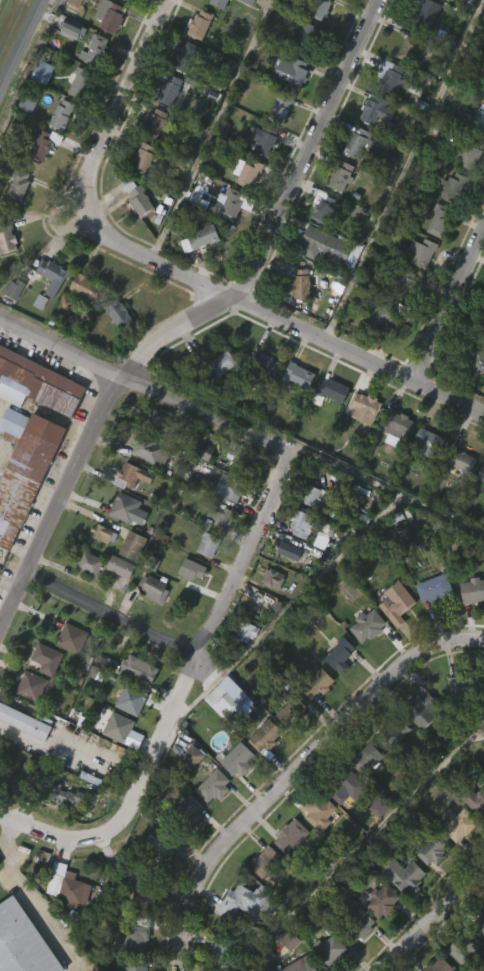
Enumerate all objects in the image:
building: (129, 0)
building: (136, 0)
building: (217, 3)
building: (232, 5)
building: (321, 8)
building: (428, 12)
building: (109, 15)
building: (120, 17)
building: (201, 24)
building: (217, 28)
building: (73, 30)
building: (243, 30)
building: (311, 39)
road: (21, 46)
building: (419, 46)
building: (96, 51)
building: (187, 56)
building: (67, 64)
building: (298, 74)
building: (392, 75)
building: (78, 83)
building: (405, 83)
building: (89, 85)
building: (169, 91)
building: (483, 92)
building: (182, 93)
road: (124, 103)
building: (283, 108)
building: (36, 110)
building: (379, 112)
building: (59, 116)
building: (76, 118)
building: (479, 121)
building: (159, 124)
building: (23, 138)
building: (268, 140)
building: (43, 143)
building: (366, 143)
building: (57, 150)
building: (471, 153)
building: (151, 158)
building: (142, 160)
building: (246, 172)
building: (342, 174)
building: (353, 177)
building: (260, 178)
building: (39, 179)
building: (20, 183)
building: (456, 186)
building: (136, 196)
building: (227, 204)
building: (325, 206)
building: (242, 207)
building: (336, 210)
road: (279, 213)
building: (442, 219)
building: (14, 220)
building: (133, 232)
building: (6, 238)
building: (201, 238)
building: (223, 239)
building: (327, 246)
building: (424, 252)
building: (433, 258)
building: (53, 274)
building: (194, 274)
building: (302, 283)
building: (406, 284)
building: (84, 288)
building: (416, 288)
road: (449, 305)
building: (47, 310)
building: (120, 313)
building: (375, 317)
building: (296, 318)
building: (400, 318)
road: (282, 320)
building: (80, 321)
building: (10, 323)
building: (483, 326)
building: (35, 337)
building: (60, 339)
building: (114, 348)
building: (371, 351)
building: (478, 360)
building: (265, 363)
building: (223, 364)
building: (300, 375)
road: (145, 388)
building: (337, 390)
building: (473, 396)
building: (261, 399)
building: (216, 400)
building: (367, 404)
building: (293, 410)
building: (35, 419)
building: (400, 423)
building: (327, 424)
building: (159, 425)
building: (431, 443)
building: (359, 445)
building: (150, 450)
building: (391, 459)
building: (463, 460)
building: (246, 461)
building: (25, 468)
building: (482, 475)
building: (133, 476)
building: (420, 478)
building: (146, 486)
building: (199, 486)
road: (385, 486)
building: (231, 489)
building: (457, 495)
building: (324, 502)
road: (59, 504)
building: (126, 506)
building: (479, 507)
building: (225, 522)
building: (302, 522)
building: (119, 543)
building: (210, 544)
building: (134, 545)
building: (294, 552)
building: (91, 563)
building: (123, 566)
building: (193, 569)
building: (316, 576)
building: (275, 578)
building: (203, 579)
building: (128, 580)
building: (284, 585)
building: (434, 586)
building: (155, 588)
building: (474, 590)
building: (85, 598)
building: (116, 601)
building: (398, 603)
building: (188, 604)
building: (268, 613)
road: (118, 619)
road: (216, 619)
building: (148, 623)
building: (429, 623)
building: (470, 625)
building: (247, 631)
building: (73, 638)
building: (392, 638)
building: (341, 655)
building: (47, 658)
building: (362, 660)
building: (241, 667)
building: (135, 669)
building: (67, 673)
building: (320, 683)
building: (32, 687)
building: (464, 687)
building: (336, 690)
building: (41, 693)
building: (102, 698)
building: (231, 698)
building: (132, 700)
building: (293, 711)
building: (424, 711)
building: (313, 718)
building: (451, 719)
building: (23, 721)
building: (119, 727)
road: (57, 730)
building: (221, 732)
building: (393, 732)
building: (268, 735)
building: (286, 745)
building: (418, 745)
building: (194, 756)
building: (22, 757)
building: (369, 758)
building: (241, 760)
building: (113, 761)
building: (389, 768)
building: (261, 770)
road: (296, 772)
building: (6, 775)
building: (215, 786)
building: (348, 787)
building: (187, 791)
building: (232, 793)
building: (360, 794)
building: (65, 797)
building: (475, 801)
building: (3, 810)
building: (191, 811)
building: (208, 820)
building: (339, 824)
building: (463, 826)
building: (63, 831)
building: (293, 835)
building: (473, 835)
building: (374, 842)
building: (186, 844)
building: (314, 845)
road: (85, 846)
building: (160, 850)
building: (437, 850)
building: (455, 860)
building: (266, 862)
building: (0, 865)
building: (127, 869)
building: (285, 870)
building: (409, 876)
building: (154, 883)
building: (426, 884)
building: (69, 886)
building: (145, 895)
road: (29, 898)
building: (382, 900)
building: (246, 902)
building: (399, 909)
road: (433, 918)
building: (62, 921)
building: (481, 923)
building: (356, 925)
building: (136, 932)
building: (239, 935)
building: (375, 935)
building: (23, 942)
building: (331, 950)
building: (222, 951)
building: (467, 951)
building: (354, 958)
building: (138, 965)
building: (302, 965)
building: (444, 965)
building: (284, 968)
building: (327, 969)
building: (466, 969)

